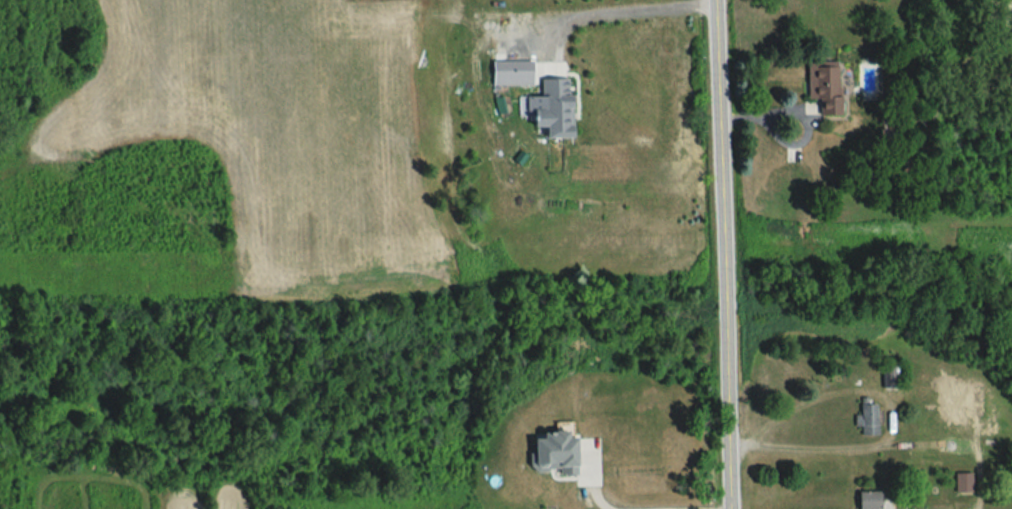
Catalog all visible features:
road: (628, 10)
building: (554, 118)
crop: (266, 122)
road: (764, 123)
building: (791, 156)
road: (724, 254)
building: (551, 455)
road: (593, 491)
building: (867, 501)
road: (727, 508)

